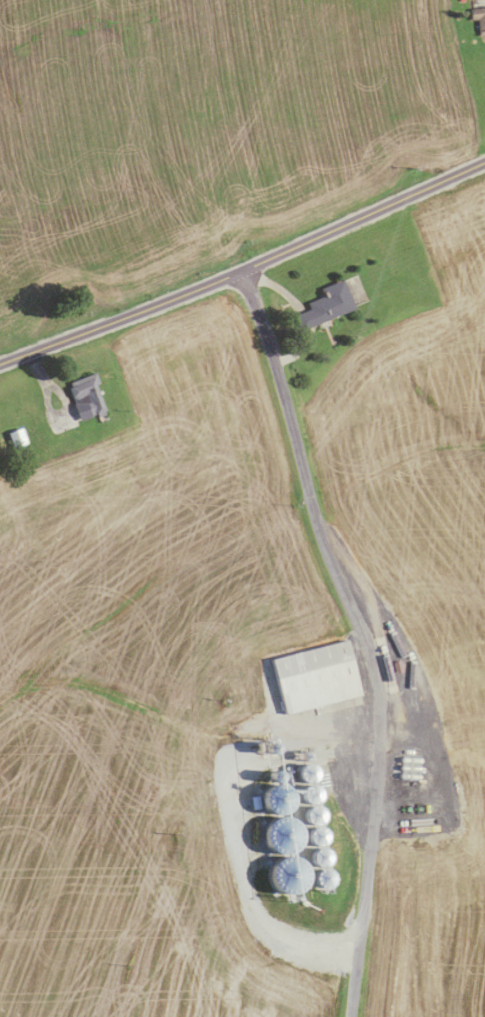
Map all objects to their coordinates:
building: (479, 19)
road: (244, 268)
building: (325, 306)
road: (302, 313)
building: (86, 396)
road: (66, 403)
building: (11, 439)
road: (348, 608)
building: (315, 678)
road: (343, 729)
building: (307, 773)
silo: (307, 773)
building: (309, 794)
silo: (309, 794)
building: (313, 815)
silo: (313, 815)
building: (315, 836)
silo: (315, 836)
building: (318, 857)
silo: (318, 857)
building: (321, 879)
silo: (321, 879)
road: (353, 987)

